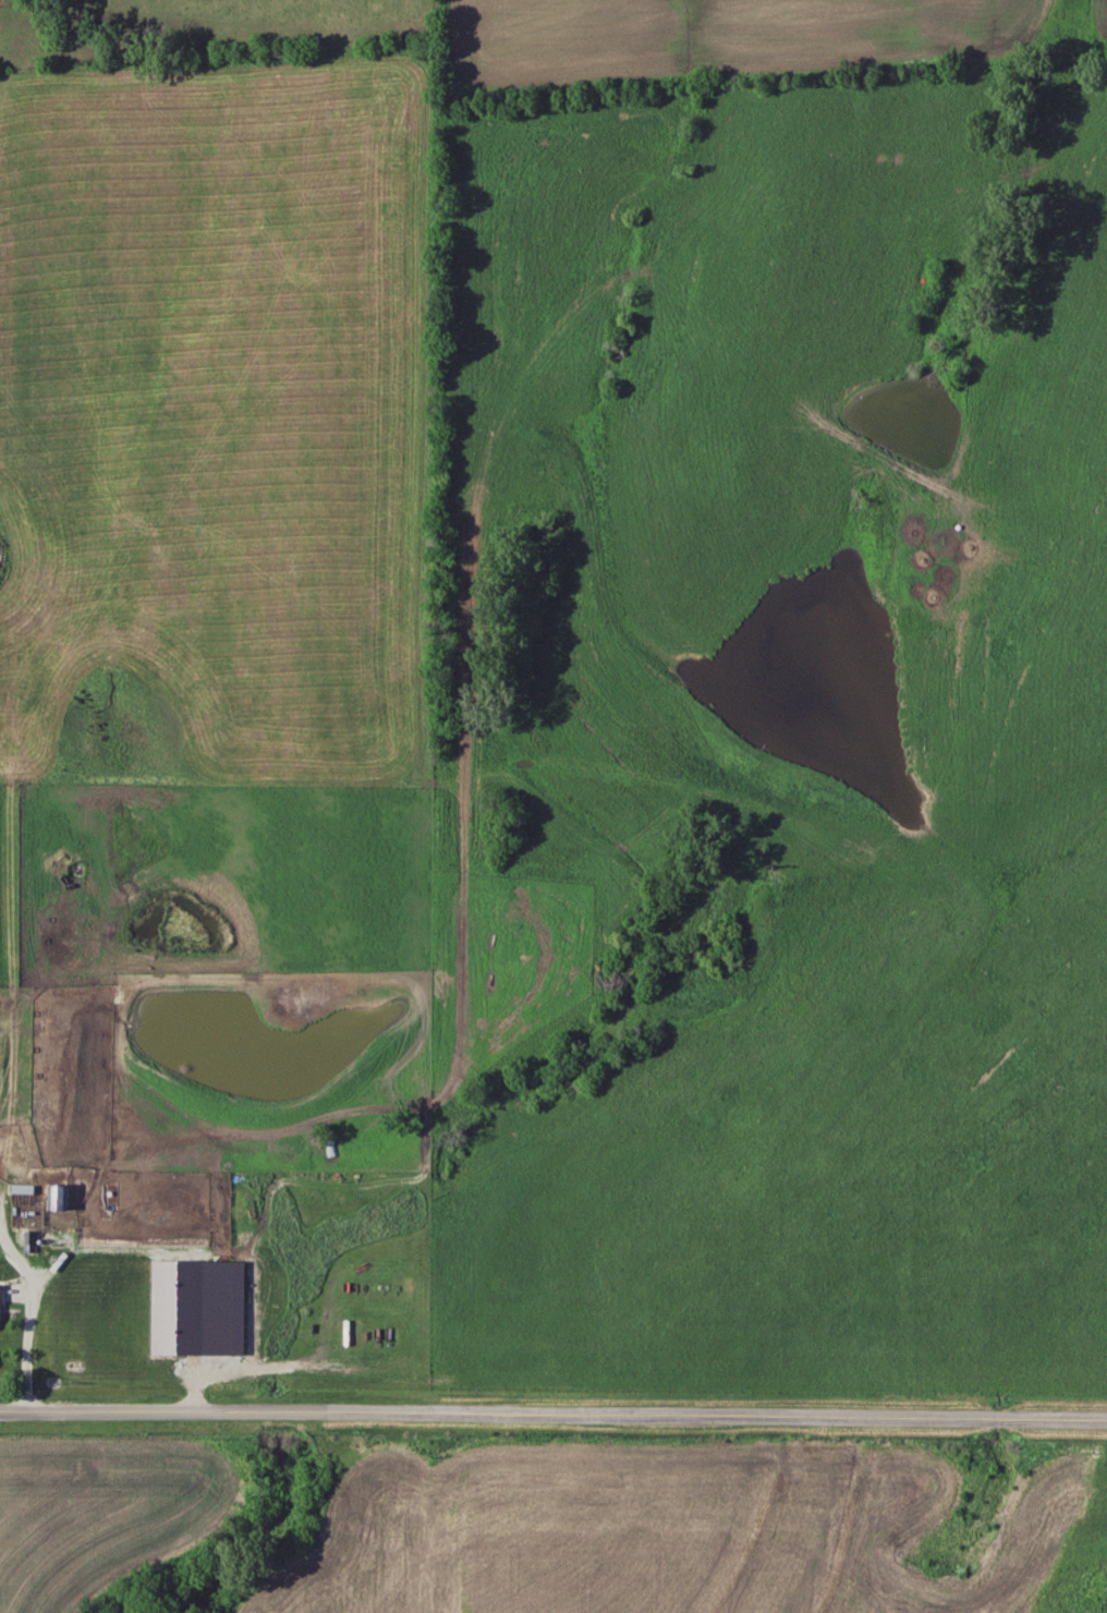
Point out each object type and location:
building: (57, 1192)
road: (553, 1411)

